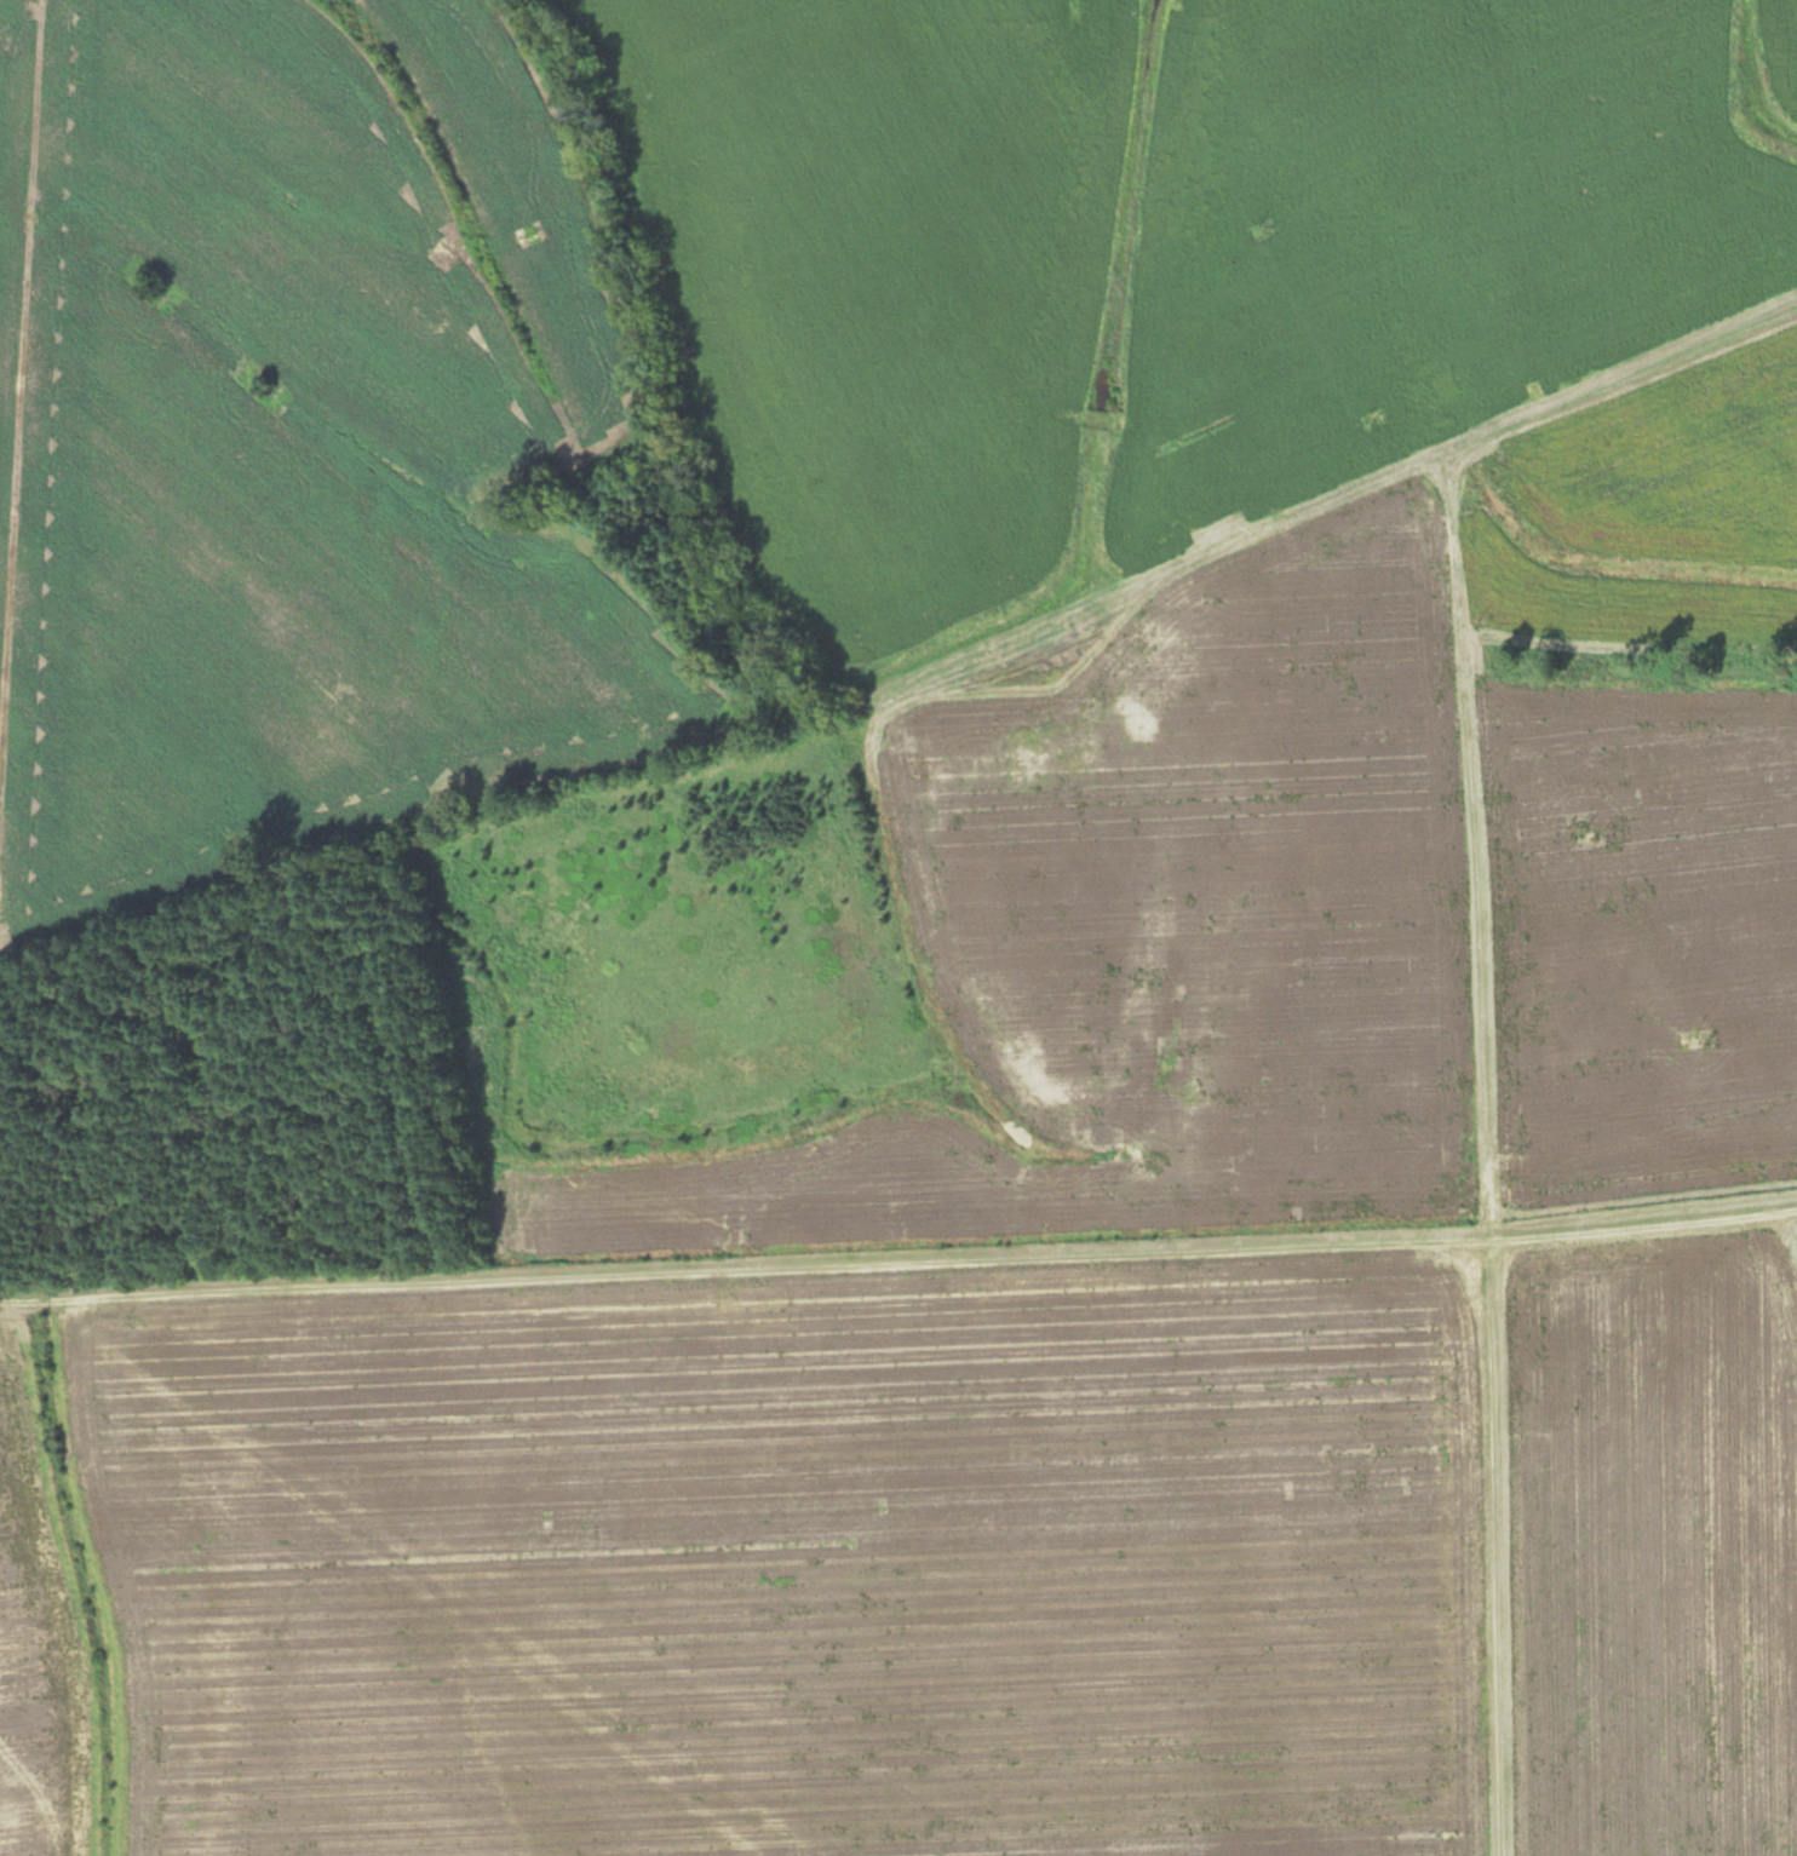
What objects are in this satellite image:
road: (1642, 1212)
road: (744, 1281)
road: (1492, 1542)

